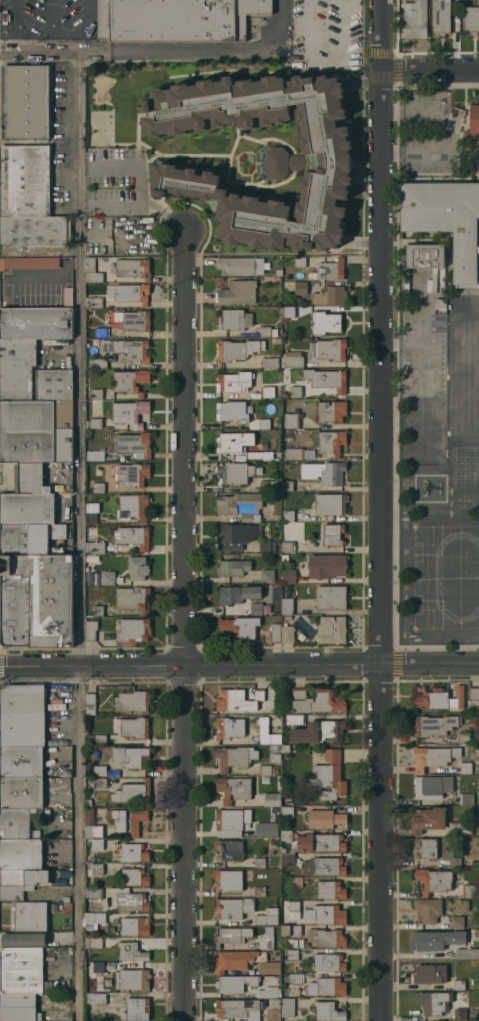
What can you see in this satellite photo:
building: (441, 17)
building: (176, 19)
building: (414, 19)
building: (471, 20)
road: (87, 30)
road: (38, 32)
road: (198, 50)
road: (428, 72)
building: (25, 102)
building: (473, 123)
building: (308, 163)
building: (24, 180)
building: (446, 221)
building: (35, 231)
road: (39, 251)
building: (423, 255)
building: (299, 261)
building: (29, 262)
building: (241, 265)
building: (131, 268)
building: (329, 270)
building: (92, 271)
building: (279, 272)
building: (300, 287)
building: (237, 292)
building: (129, 293)
building: (329, 295)
building: (67, 297)
building: (93, 302)
building: (440, 303)
building: (287, 313)
building: (114, 318)
building: (234, 319)
building: (136, 320)
building: (36, 322)
building: (325, 322)
building: (267, 331)
building: (101, 332)
building: (461, 337)
building: (277, 340)
building: (237, 349)
building: (331, 349)
building: (126, 350)
building: (291, 359)
building: (461, 361)
building: (269, 362)
building: (98, 363)
building: (16, 368)
building: (326, 379)
building: (130, 381)
building: (234, 381)
building: (463, 382)
building: (54, 384)
building: (295, 391)
building: (267, 392)
building: (96, 393)
building: (463, 409)
building: (231, 411)
building: (331, 411)
building: (130, 413)
building: (292, 421)
building: (93, 423)
building: (259, 424)
building: (463, 427)
building: (36, 430)
building: (430, 438)
building: (331, 442)
building: (135, 444)
building: (232, 444)
building: (294, 453)
building: (95, 455)
building: (260, 455)
building: (98, 471)
building: (236, 472)
building: (334, 474)
building: (131, 475)
building: (31, 478)
building: (268, 486)
building: (287, 486)
building: (98, 487)
road: (77, 496)
building: (330, 504)
building: (240, 505)
building: (133, 506)
building: (26, 508)
road: (379, 510)
building: (91, 512)
building: (288, 515)
building: (236, 534)
building: (332, 534)
building: (133, 536)
building: (30, 538)
building: (267, 546)
building: (288, 546)
building: (94, 547)
building: (285, 557)
building: (326, 565)
building: (137, 567)
building: (233, 567)
building: (267, 576)
building: (288, 576)
building: (107, 578)
building: (237, 594)
building: (331, 597)
building: (133, 599)
building: (35, 600)
building: (287, 606)
building: (261, 608)
building: (97, 610)
building: (287, 616)
road: (183, 624)
building: (240, 627)
building: (134, 629)
building: (331, 629)
building: (90, 630)
building: (276, 633)
building: (287, 634)
building: (461, 636)
road: (239, 665)
building: (474, 693)
building: (439, 698)
building: (240, 699)
building: (132, 701)
building: (316, 701)
building: (90, 703)
building: (472, 708)
building: (22, 715)
building: (294, 719)
building: (434, 725)
building: (131, 727)
building: (228, 727)
building: (319, 731)
building: (267, 733)
building: (463, 737)
building: (95, 739)
building: (476, 739)
building: (285, 748)
building: (131, 757)
building: (235, 757)
building: (274, 757)
building: (433, 757)
building: (21, 761)
building: (465, 767)
building: (100, 770)
building: (265, 770)
building: (275, 770)
building: (66, 773)
building: (329, 776)
building: (100, 782)
building: (431, 786)
building: (233, 788)
building: (21, 792)
building: (132, 793)
building: (466, 798)
building: (272, 799)
building: (87, 803)
building: (286, 811)
building: (325, 818)
building: (427, 819)
building: (127, 820)
building: (231, 821)
building: (21, 822)
building: (92, 825)
building: (459, 827)
building: (266, 828)
building: (287, 835)
building: (320, 842)
building: (99, 844)
building: (424, 848)
building: (229, 850)
building: (135, 852)
building: (21, 854)
building: (287, 859)
building: (259, 862)
building: (454, 862)
building: (324, 866)
building: (94, 868)
building: (134, 876)
building: (25, 877)
building: (232, 879)
building: (433, 880)
building: (296, 882)
building: (331, 890)
building: (470, 890)
building: (14, 891)
building: (259, 891)
building: (92, 893)
building: (66, 899)
building: (131, 900)
building: (465, 905)
building: (233, 908)
building: (293, 909)
building: (428, 909)
building: (325, 915)
building: (30, 916)
building: (95, 917)
building: (267, 917)
building: (457, 922)
building: (135, 926)
building: (291, 930)
building: (232, 935)
building: (267, 938)
building: (326, 938)
building: (23, 939)
building: (437, 939)
building: (93, 942)
building: (131, 952)
building: (467, 953)
building: (292, 955)
building: (237, 959)
building: (328, 962)
building: (270, 967)
building: (98, 969)
building: (22, 970)
building: (430, 973)
building: (296, 978)
building: (132, 979)
building: (235, 983)
building: (459, 985)
building: (327, 987)
building: (268, 992)
building: (95, 998)
building: (431, 1002)
building: (18, 1007)
building: (288, 1007)
building: (138, 1009)
building: (238, 1009)
building: (273, 1010)
building: (328, 1011)
building: (460, 1014)

